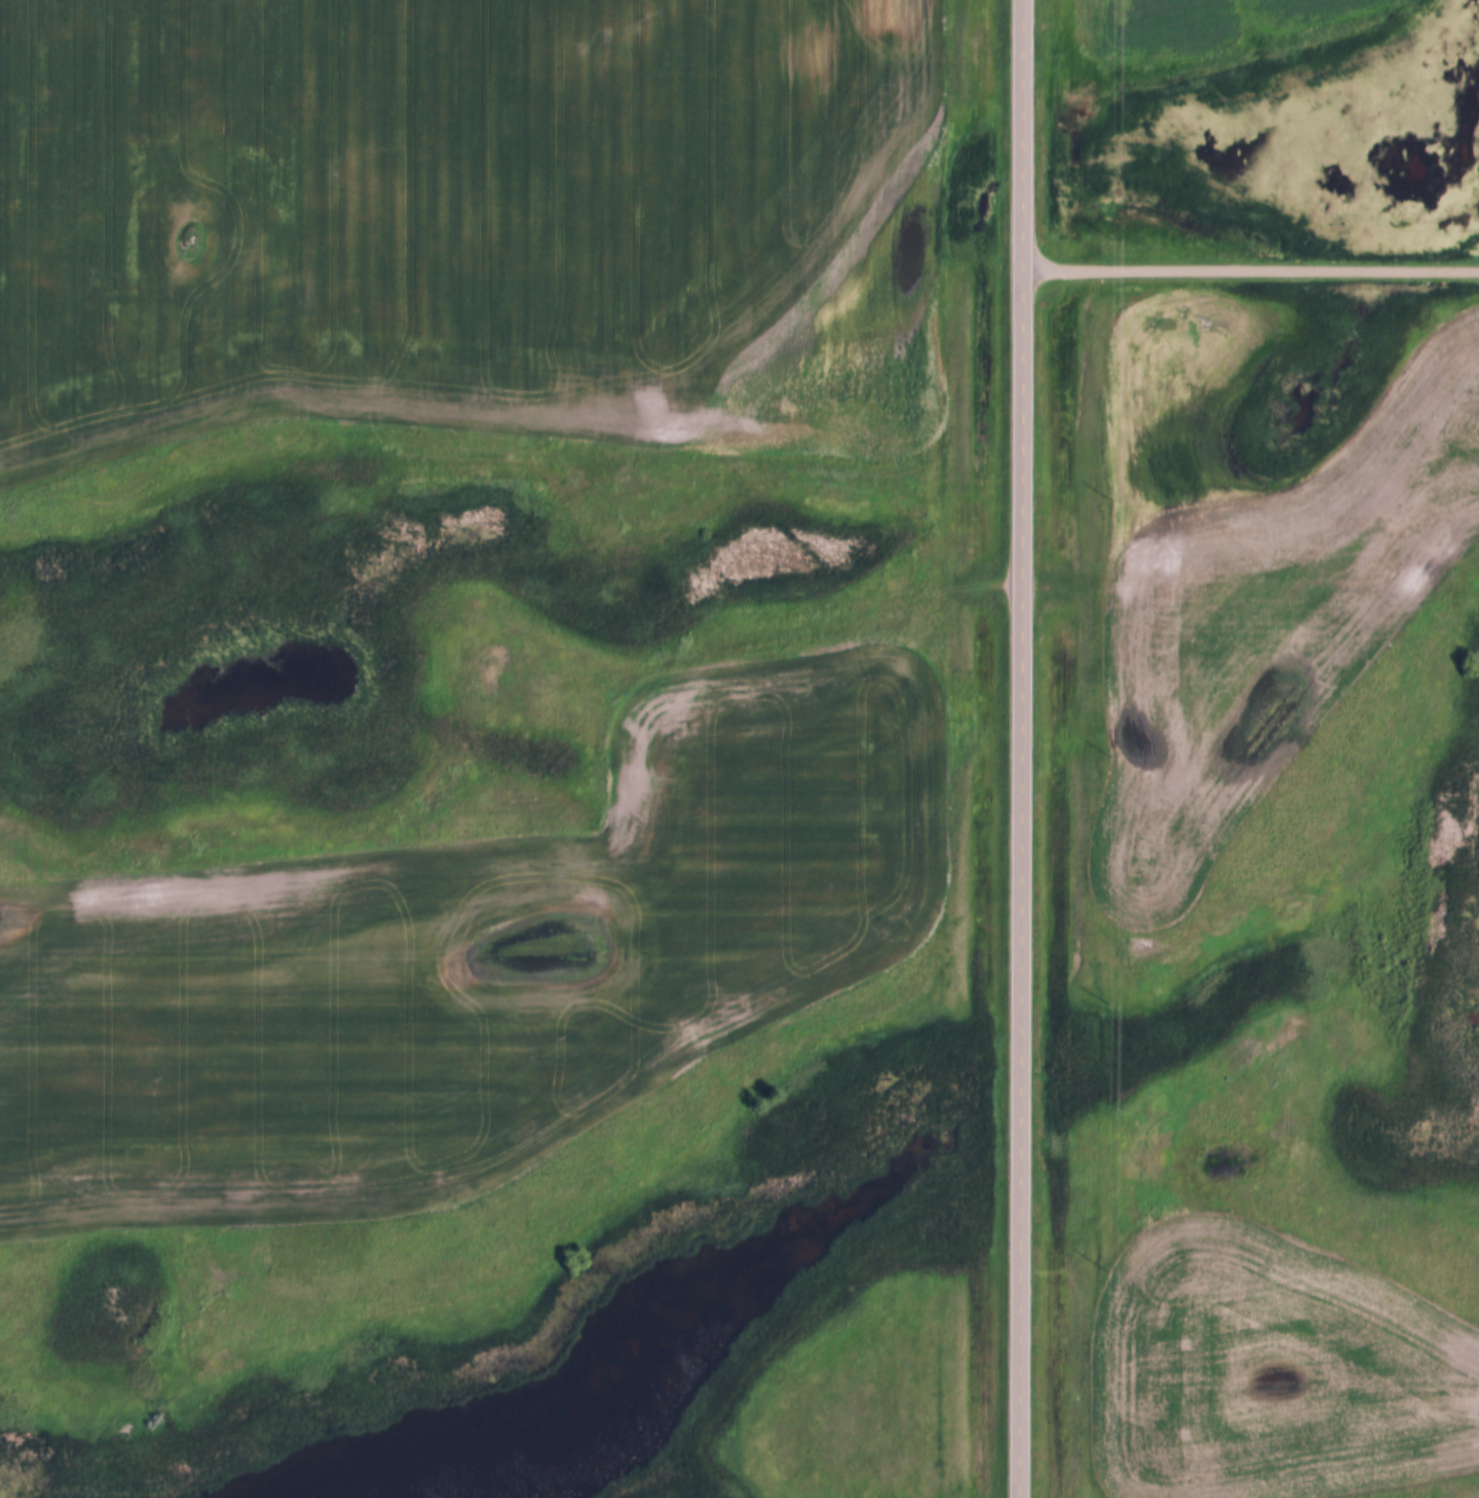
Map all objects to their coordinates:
road: (1249, 273)
road: (1021, 748)

